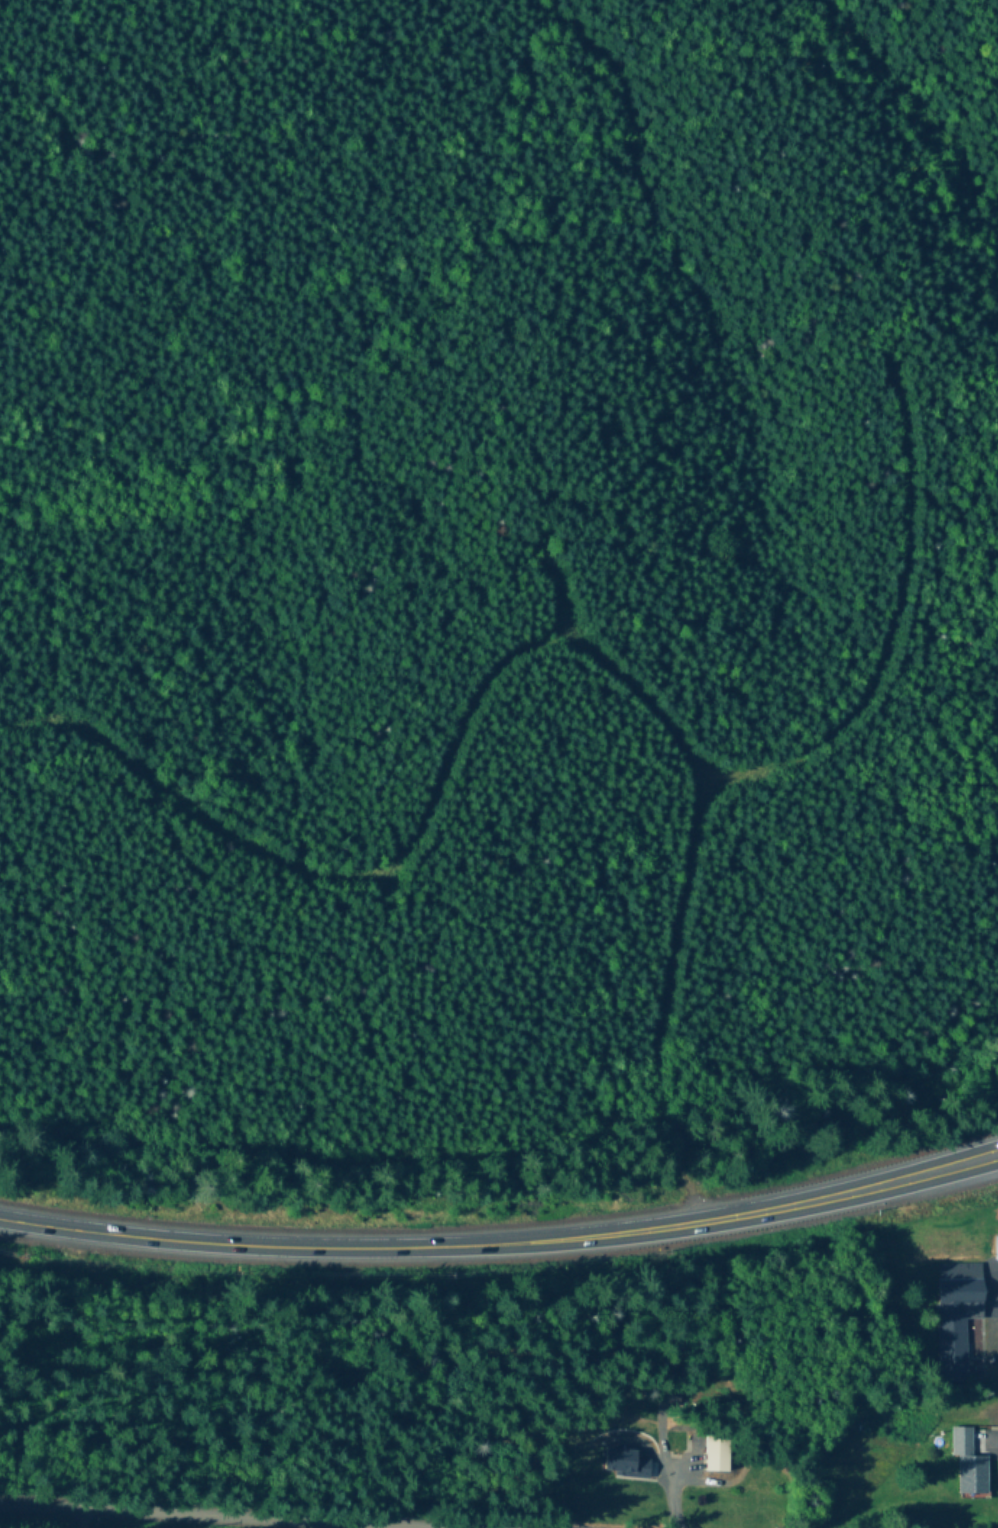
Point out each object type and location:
road: (548, 591)
road: (734, 778)
road: (409, 837)
road: (503, 1243)
building: (996, 1250)
road: (991, 1308)
building: (956, 1317)
building: (715, 1455)
building: (969, 1464)
building: (620, 1465)
road: (129, 1519)

